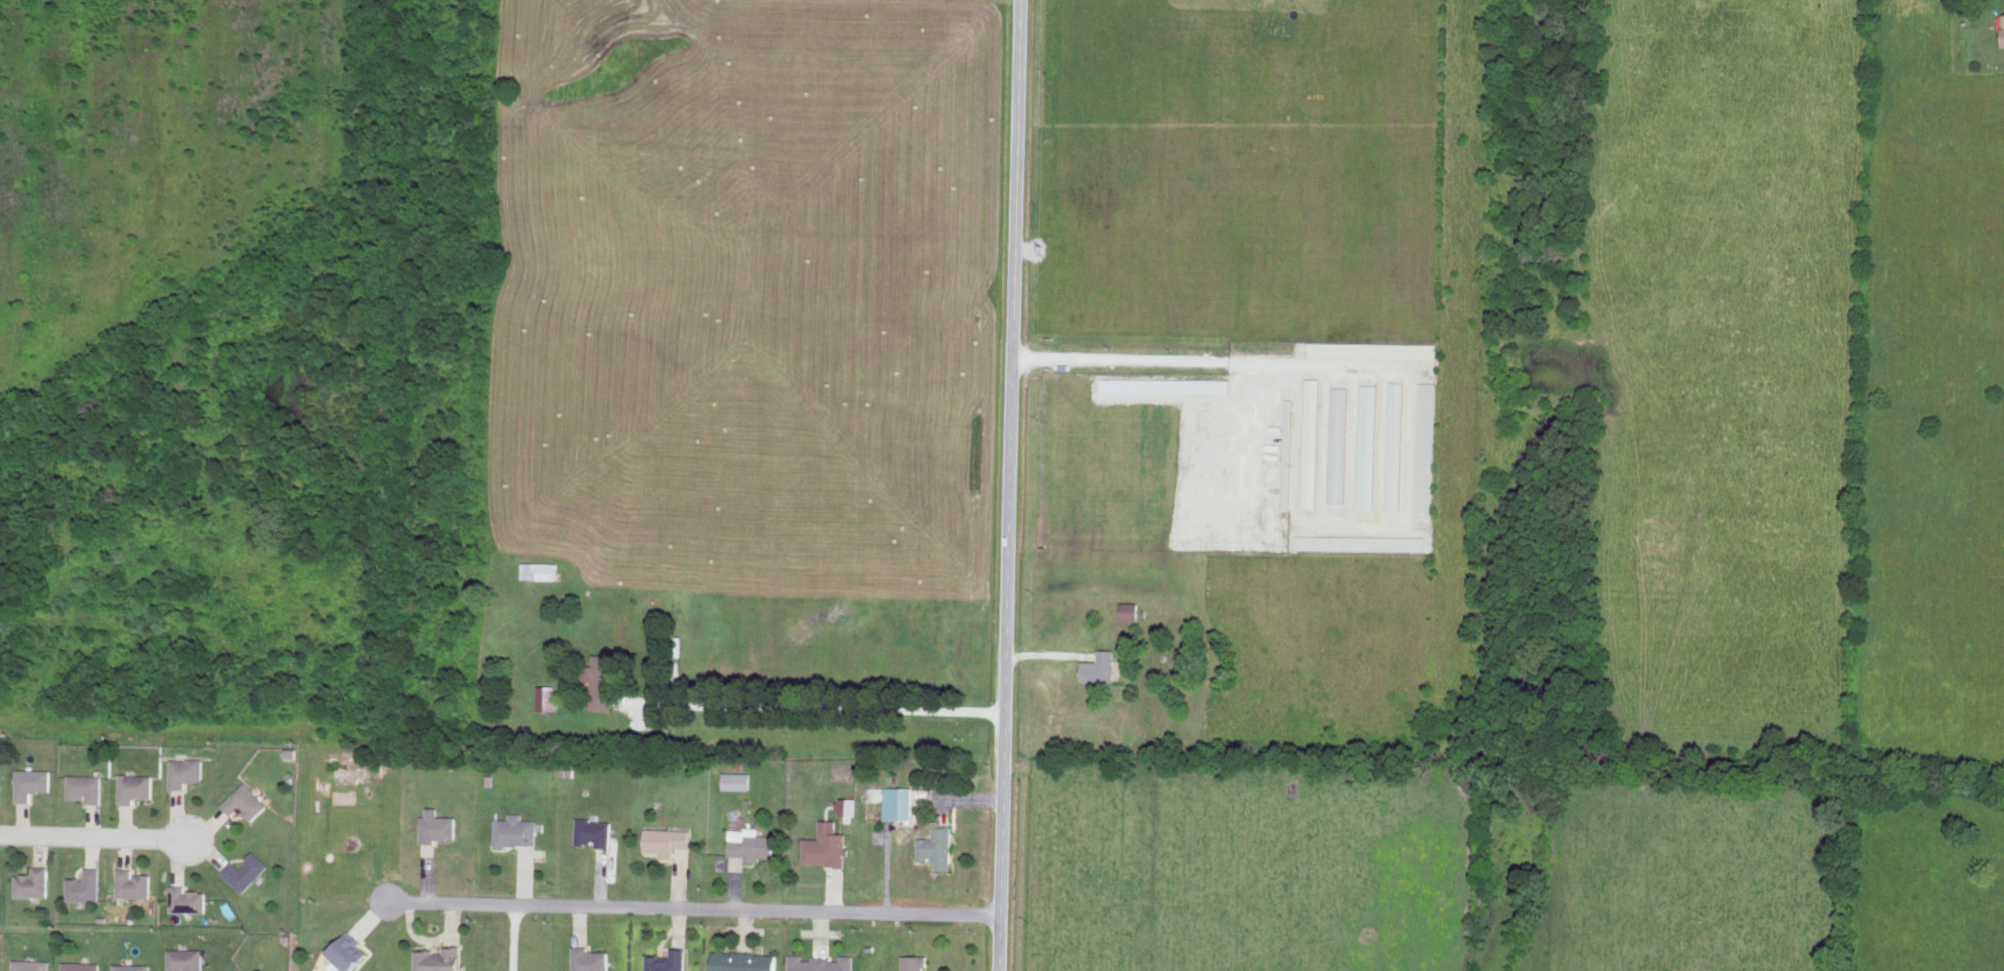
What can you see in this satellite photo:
building: (2003, 22)
road: (1015, 227)
road: (1027, 252)
road: (1119, 362)
building: (1167, 384)
building: (1313, 441)
building: (1340, 444)
building: (1369, 445)
building: (1396, 445)
building: (1427, 446)
road: (1404, 491)
building: (1362, 542)
building: (541, 569)
building: (1132, 610)
road: (1048, 657)
building: (1102, 666)
building: (607, 679)
building: (548, 697)
road: (826, 707)
road: (1005, 713)
building: (186, 771)
building: (737, 779)
building: (0, 780)
building: (33, 782)
building: (86, 787)
building: (136, 787)
building: (247, 801)
building: (899, 801)
building: (849, 804)
building: (440, 825)
building: (517, 829)
building: (596, 830)
road: (93, 836)
building: (668, 840)
building: (752, 843)
building: (827, 844)
building: (938, 845)
building: (246, 870)
building: (33, 882)
building: (134, 883)
building: (85, 885)
building: (188, 898)
road: (694, 905)
road: (372, 916)
building: (351, 951)
building: (440, 958)
building: (186, 959)
building: (591, 959)
building: (669, 961)
building: (746, 961)
building: (916, 962)
building: (822, 963)
building: (30, 965)
building: (81, 966)
building: (132, 967)

